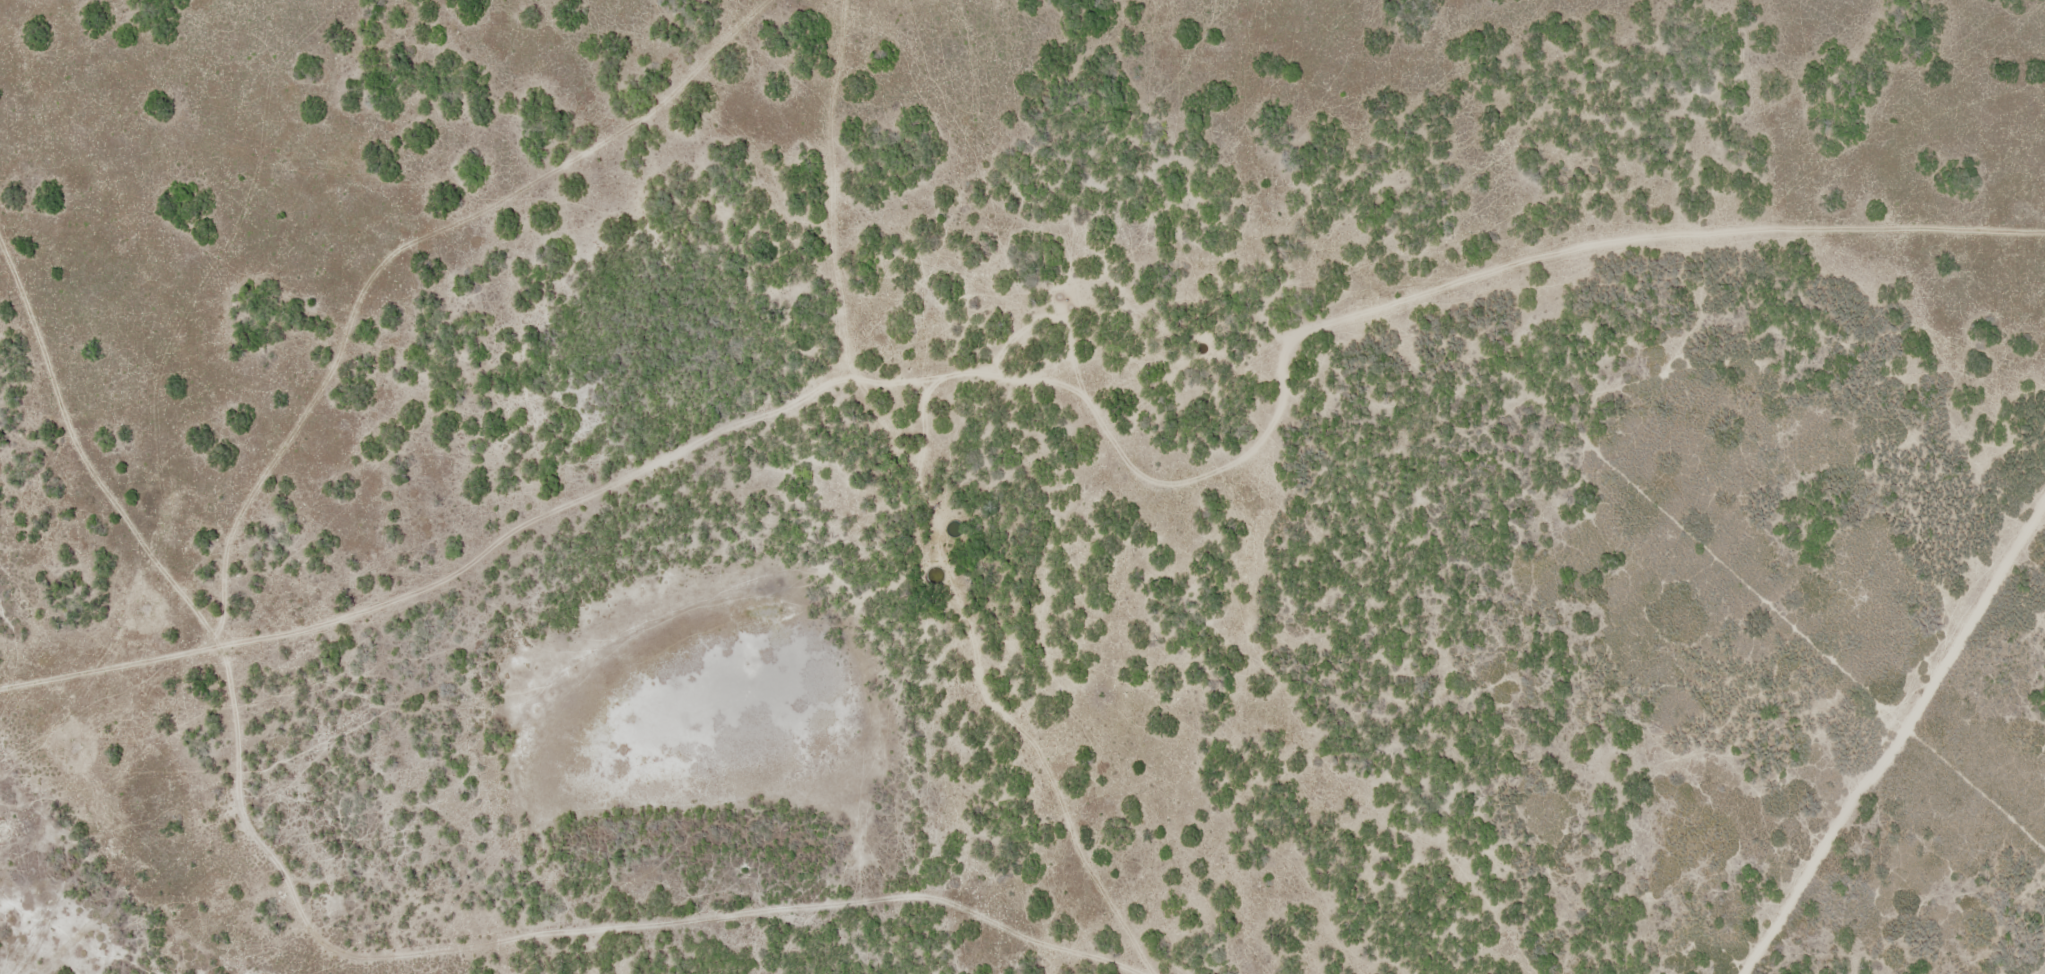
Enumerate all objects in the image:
road: (768, 16)
road: (764, 65)
road: (519, 216)
road: (1433, 239)
road: (200, 585)

